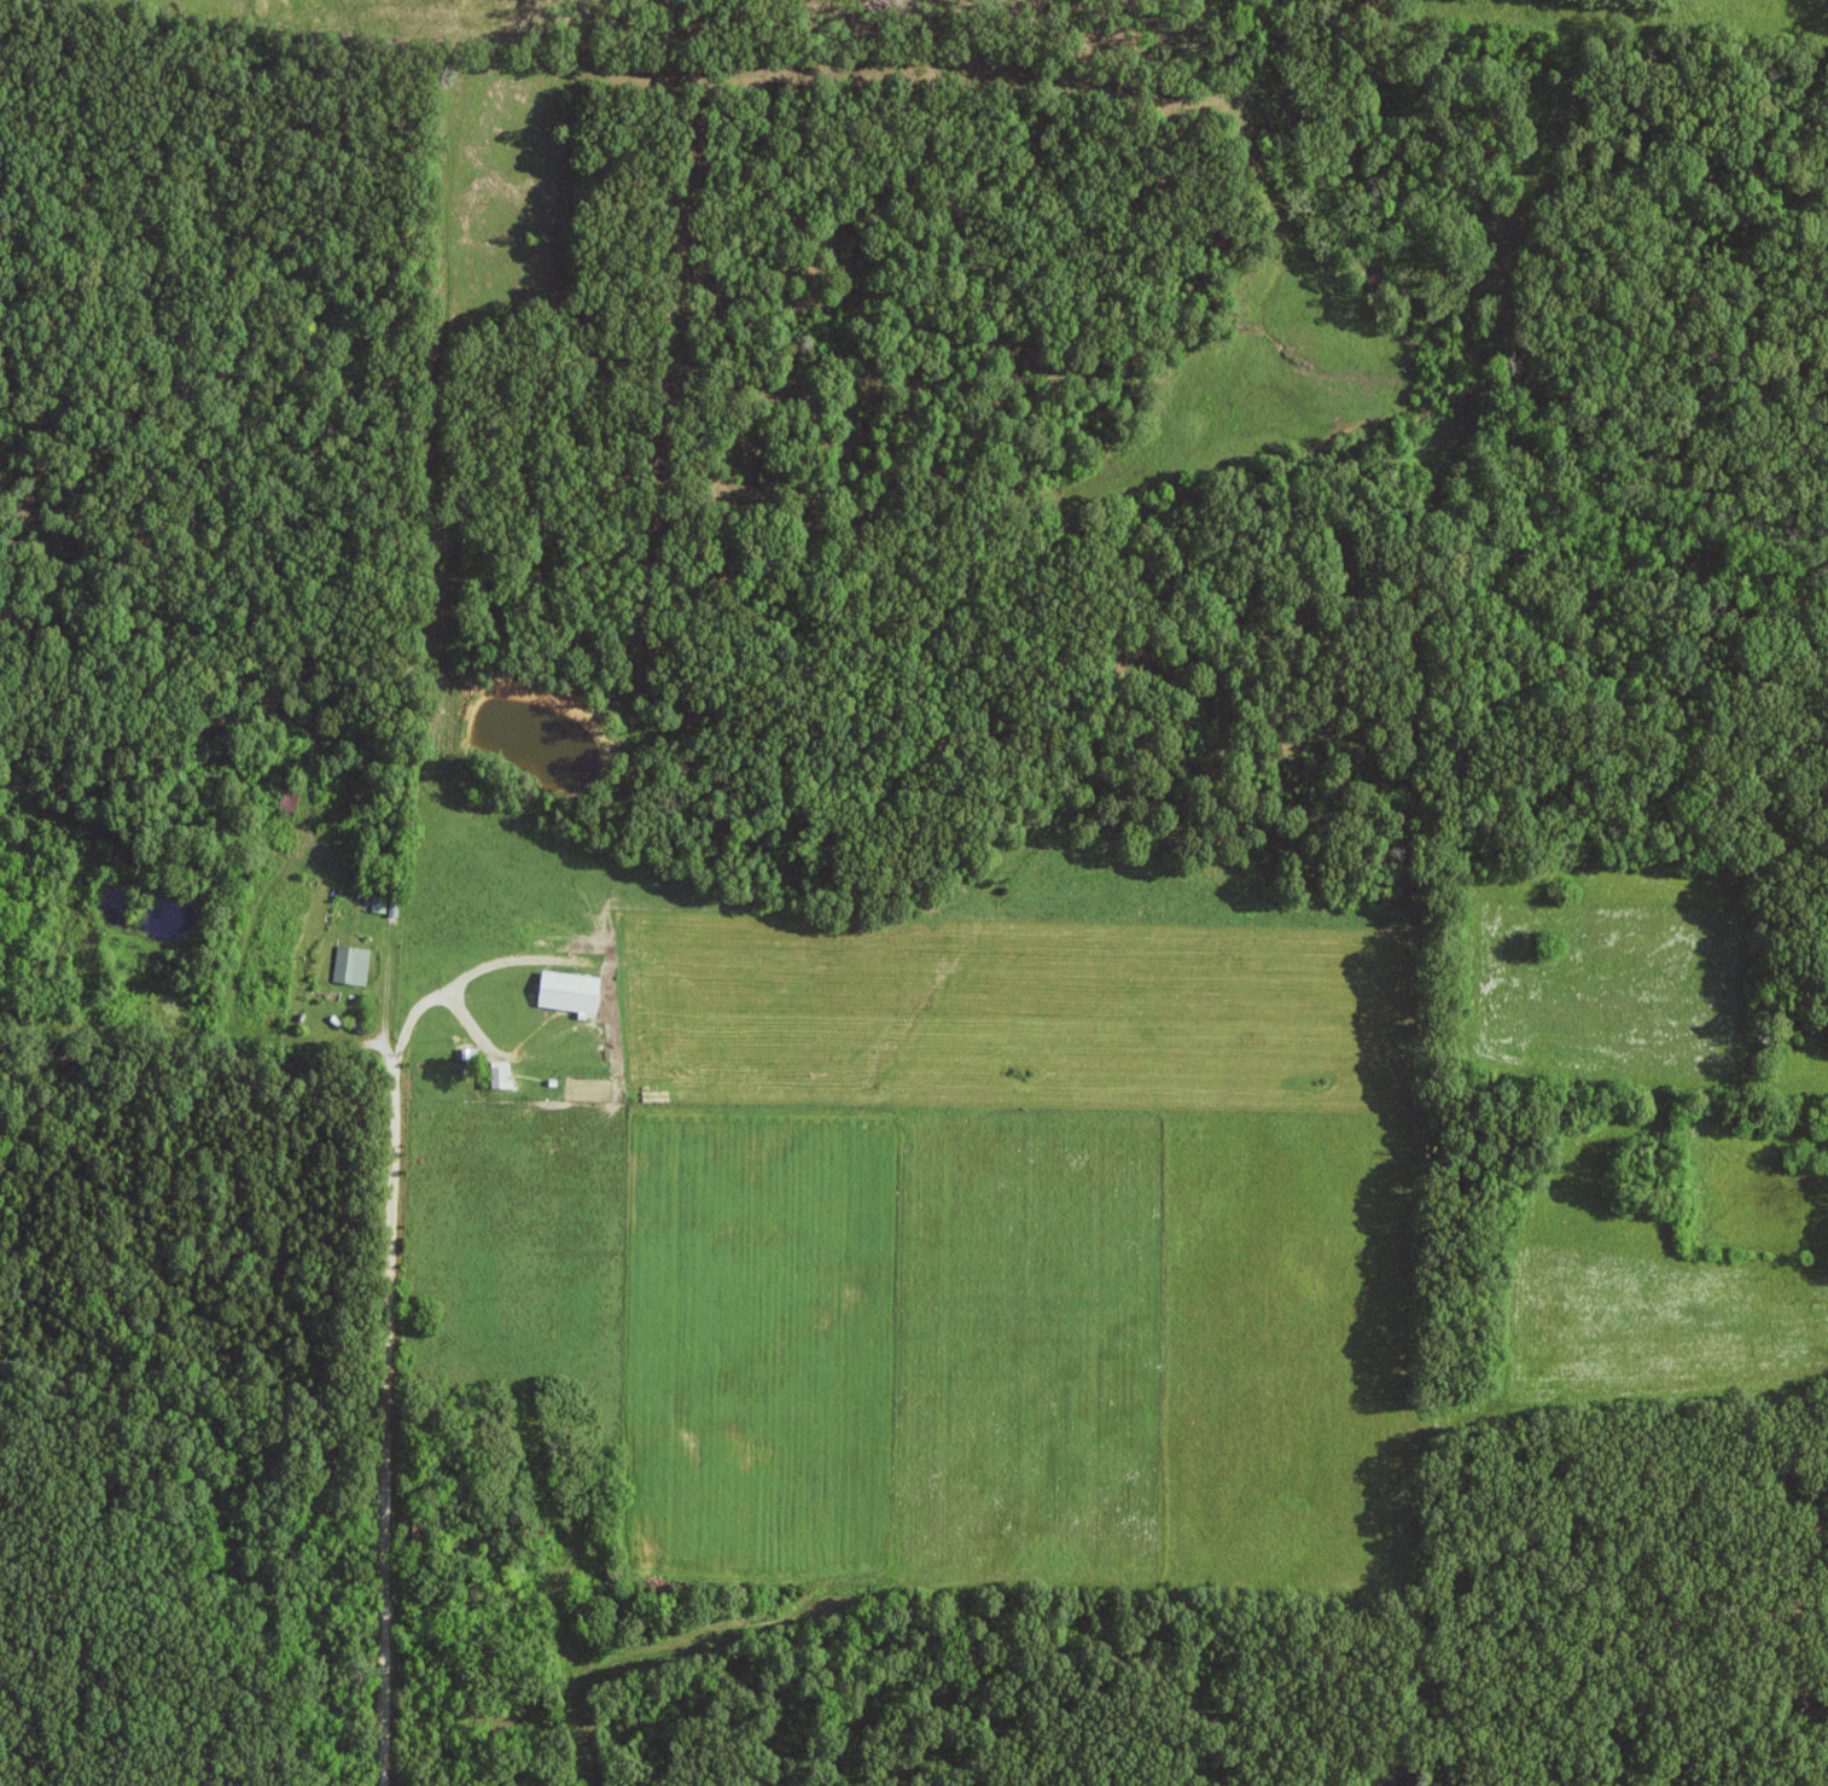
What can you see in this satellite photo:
building: (353, 967)
building: (572, 994)
building: (503, 1078)
road: (389, 1354)
road: (488, 1516)

